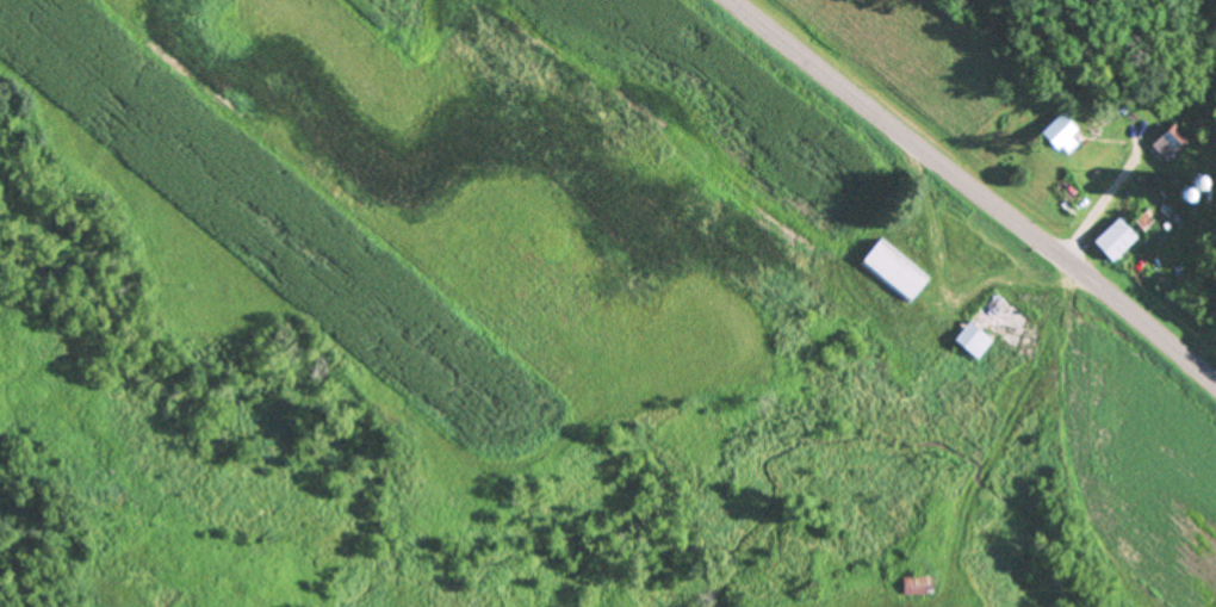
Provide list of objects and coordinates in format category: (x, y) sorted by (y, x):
building: (1051, 132)
road: (975, 188)
building: (1112, 240)
building: (892, 268)
building: (980, 324)

